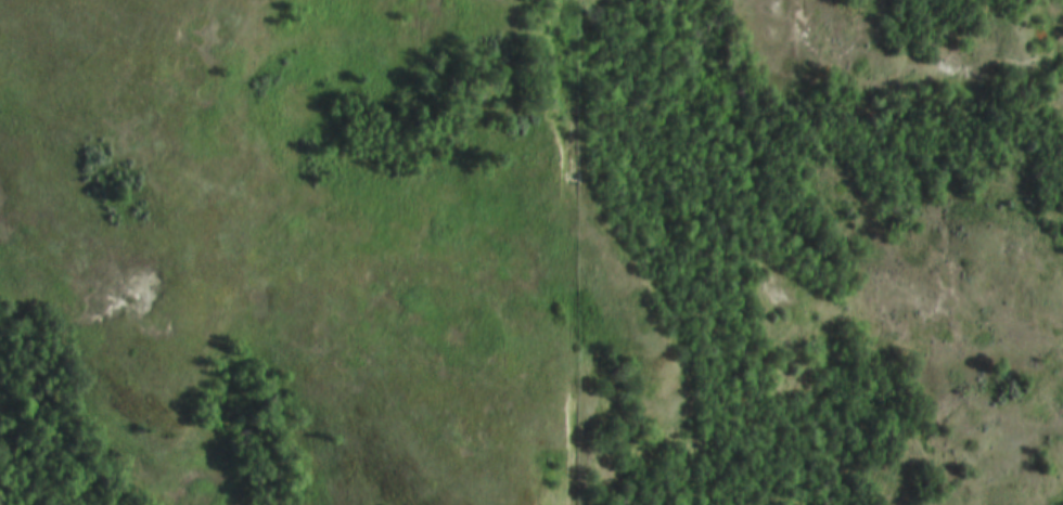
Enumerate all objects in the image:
road: (572, 252)

